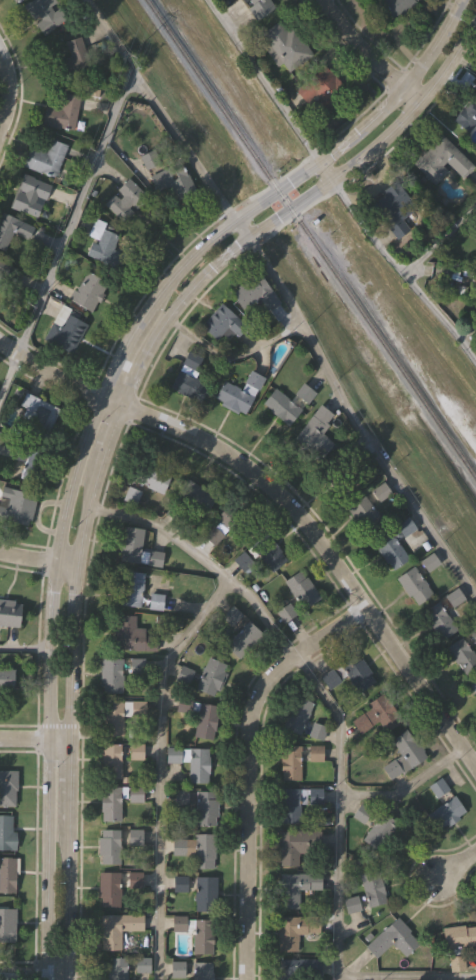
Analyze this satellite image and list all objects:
building: (17, 0)
building: (261, 5)
building: (393, 7)
building: (44, 13)
building: (284, 44)
road: (356, 45)
building: (74, 56)
road: (8, 91)
building: (322, 93)
road: (407, 94)
building: (61, 112)
building: (466, 113)
building: (47, 157)
building: (440, 159)
building: (172, 177)
road: (335, 185)
building: (30, 194)
building: (125, 199)
building: (391, 208)
building: (12, 228)
road: (65, 233)
building: (102, 239)
railway: (308, 242)
road: (441, 244)
building: (7, 270)
building: (88, 289)
building: (253, 292)
road: (283, 295)
building: (222, 323)
building: (69, 332)
road: (231, 357)
building: (188, 377)
building: (304, 392)
building: (233, 397)
building: (280, 405)
building: (43, 415)
road: (88, 417)
road: (112, 422)
building: (315, 429)
building: (33, 465)
building: (345, 468)
building: (152, 477)
building: (380, 491)
building: (203, 500)
road: (286, 503)
building: (16, 505)
building: (362, 515)
building: (234, 521)
building: (213, 535)
building: (137, 547)
building: (390, 549)
building: (268, 551)
road: (37, 558)
building: (245, 562)
building: (429, 562)
building: (414, 584)
building: (132, 587)
building: (302, 588)
building: (453, 598)
building: (156, 600)
building: (286, 611)
building: (10, 612)
building: (438, 620)
building: (134, 634)
building: (473, 634)
building: (243, 639)
road: (20, 651)
building: (462, 654)
building: (118, 672)
building: (349, 673)
building: (211, 675)
building: (6, 677)
building: (473, 684)
building: (374, 713)
building: (113, 717)
building: (302, 718)
building: (206, 720)
road: (33, 738)
road: (340, 746)
building: (136, 750)
building: (315, 752)
building: (403, 754)
building: (173, 755)
building: (110, 760)
building: (291, 761)
building: (198, 764)
road: (244, 766)
road: (160, 770)
building: (435, 786)
building: (8, 787)
road: (404, 789)
building: (136, 793)
building: (181, 799)
building: (295, 802)
building: (110, 803)
building: (205, 807)
building: (362, 812)
building: (445, 813)
building: (6, 831)
building: (380, 831)
building: (135, 837)
building: (296, 844)
building: (109, 846)
building: (178, 847)
building: (204, 850)
road: (456, 864)
building: (7, 872)
building: (134, 878)
building: (180, 882)
building: (296, 886)
building: (372, 887)
building: (109, 888)
building: (206, 893)
building: (7, 925)
building: (117, 928)
building: (294, 929)
building: (203, 936)
building: (459, 936)
building: (392, 938)
building: (116, 968)
building: (298, 968)
building: (202, 970)
road: (32, 972)

